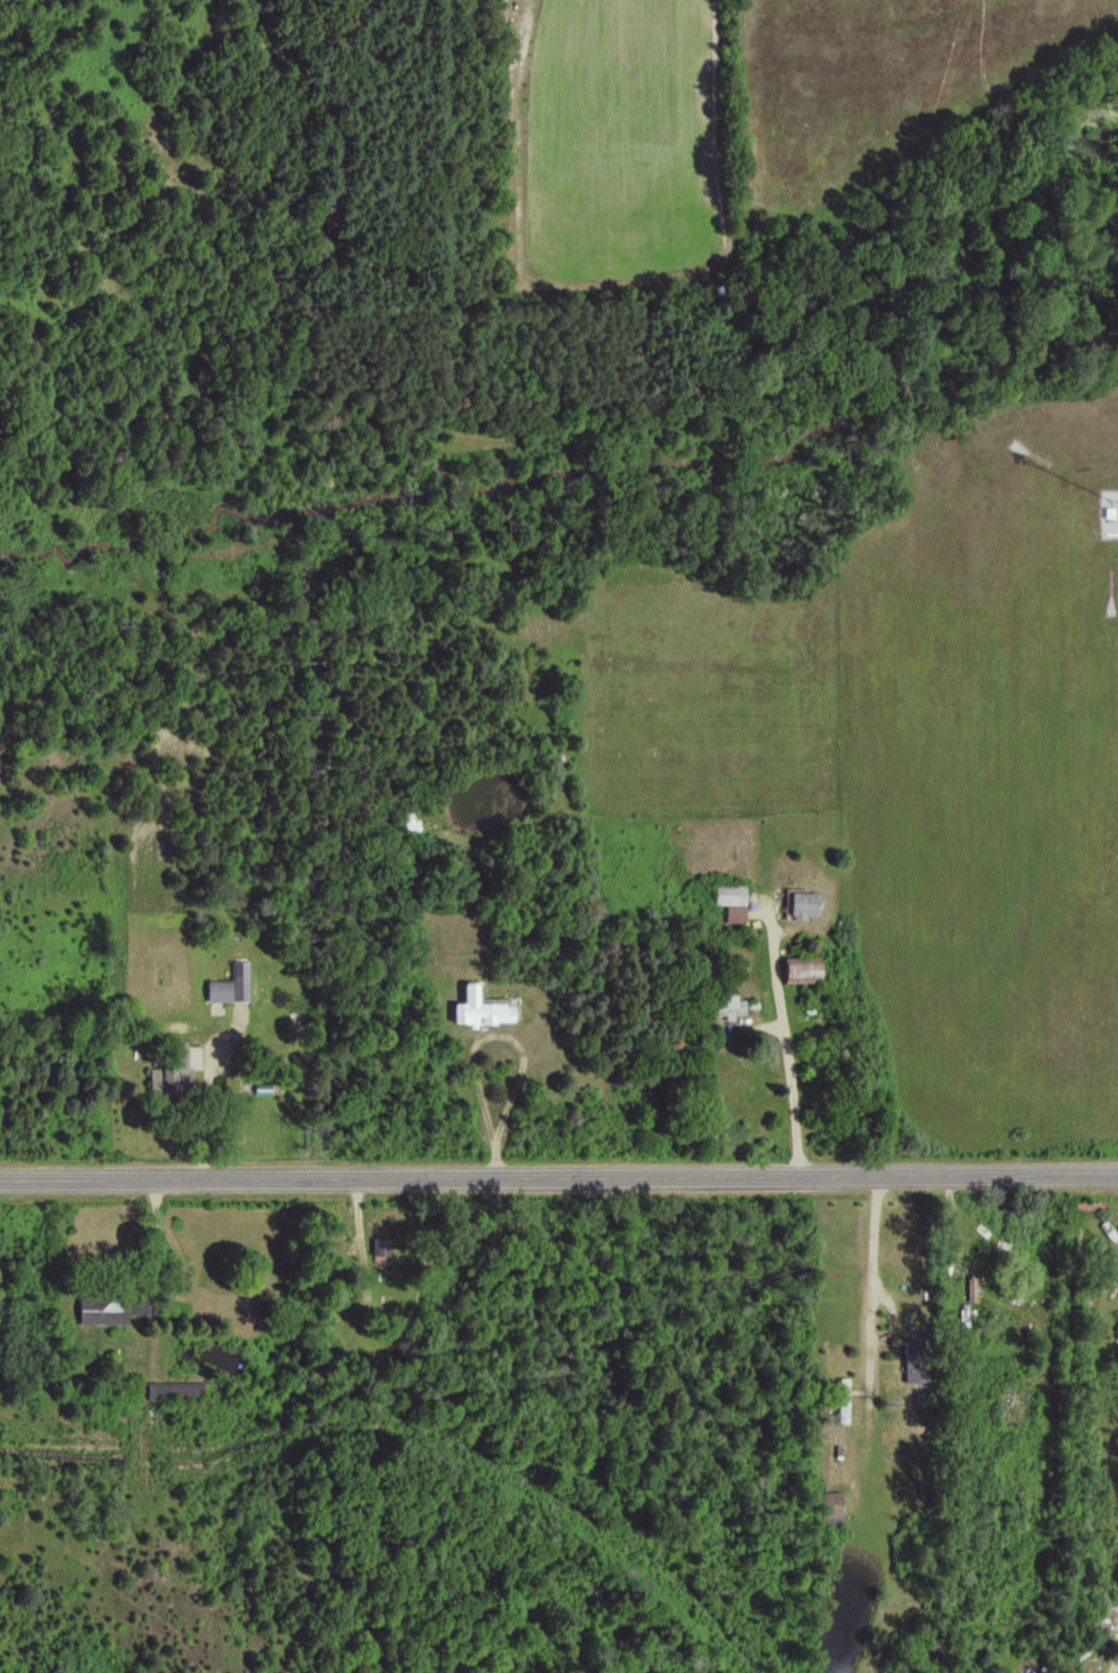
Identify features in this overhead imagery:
building: (408, 822)
building: (730, 901)
building: (800, 969)
building: (229, 985)
building: (725, 1005)
building: (478, 1009)
road: (476, 1032)
road: (785, 1047)
building: (168, 1072)
road: (558, 1178)
building: (377, 1246)
road: (882, 1251)
building: (111, 1310)
building: (917, 1370)
building: (173, 1390)
building: (842, 1400)
building: (829, 1504)
road: (1111, 1659)

